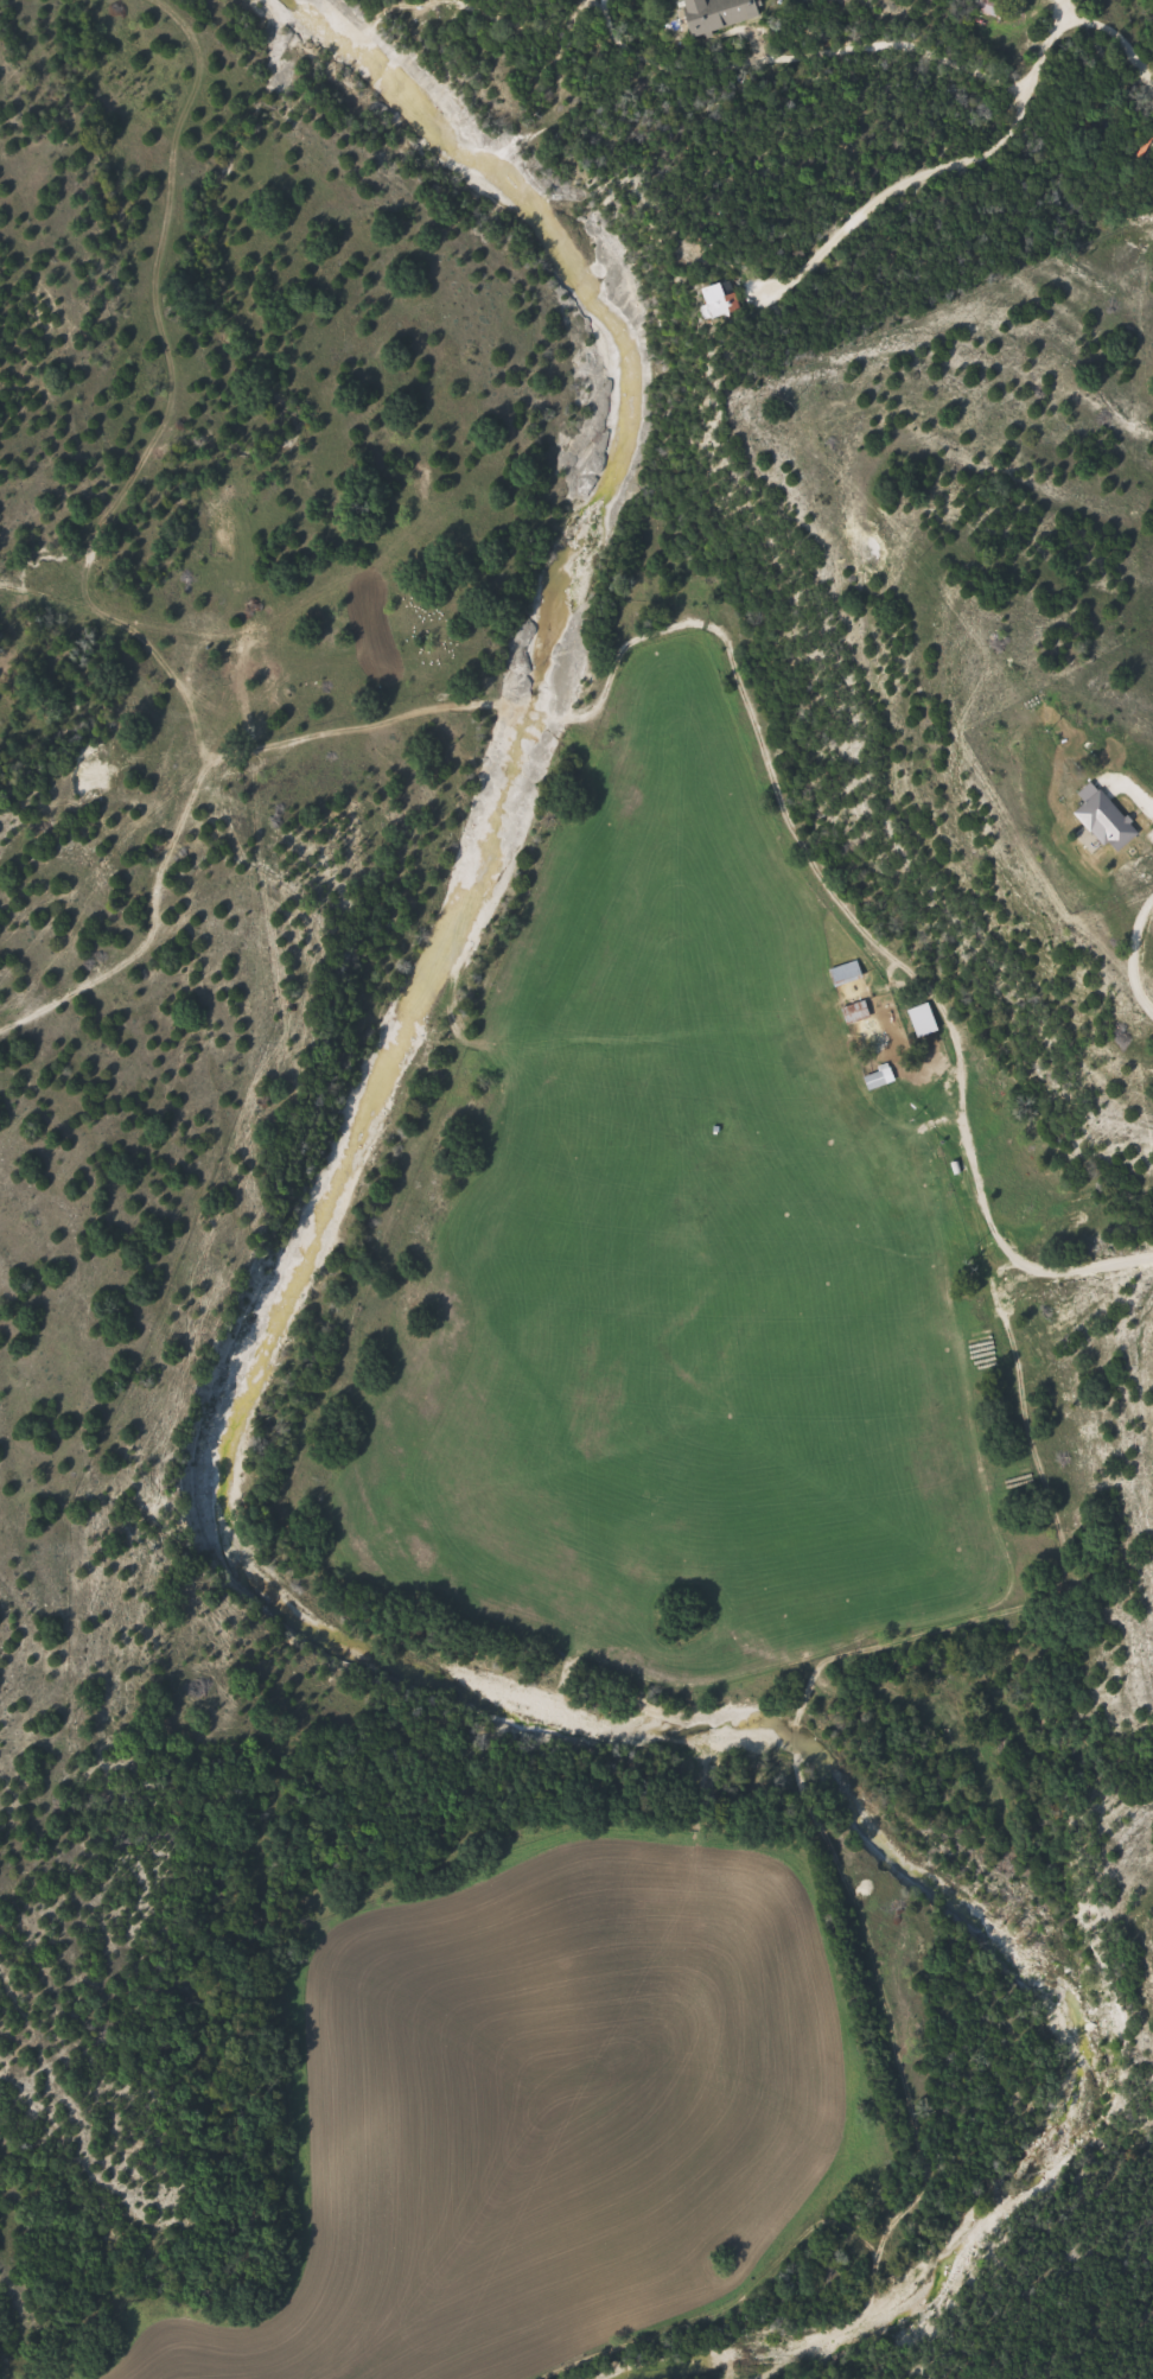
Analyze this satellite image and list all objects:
building: (994, 8)
building: (727, 15)
road: (985, 165)
building: (721, 303)
road: (1148, 801)
road: (1133, 954)
building: (848, 973)
building: (858, 1013)
building: (919, 1020)
building: (881, 1079)
road: (998, 1226)

